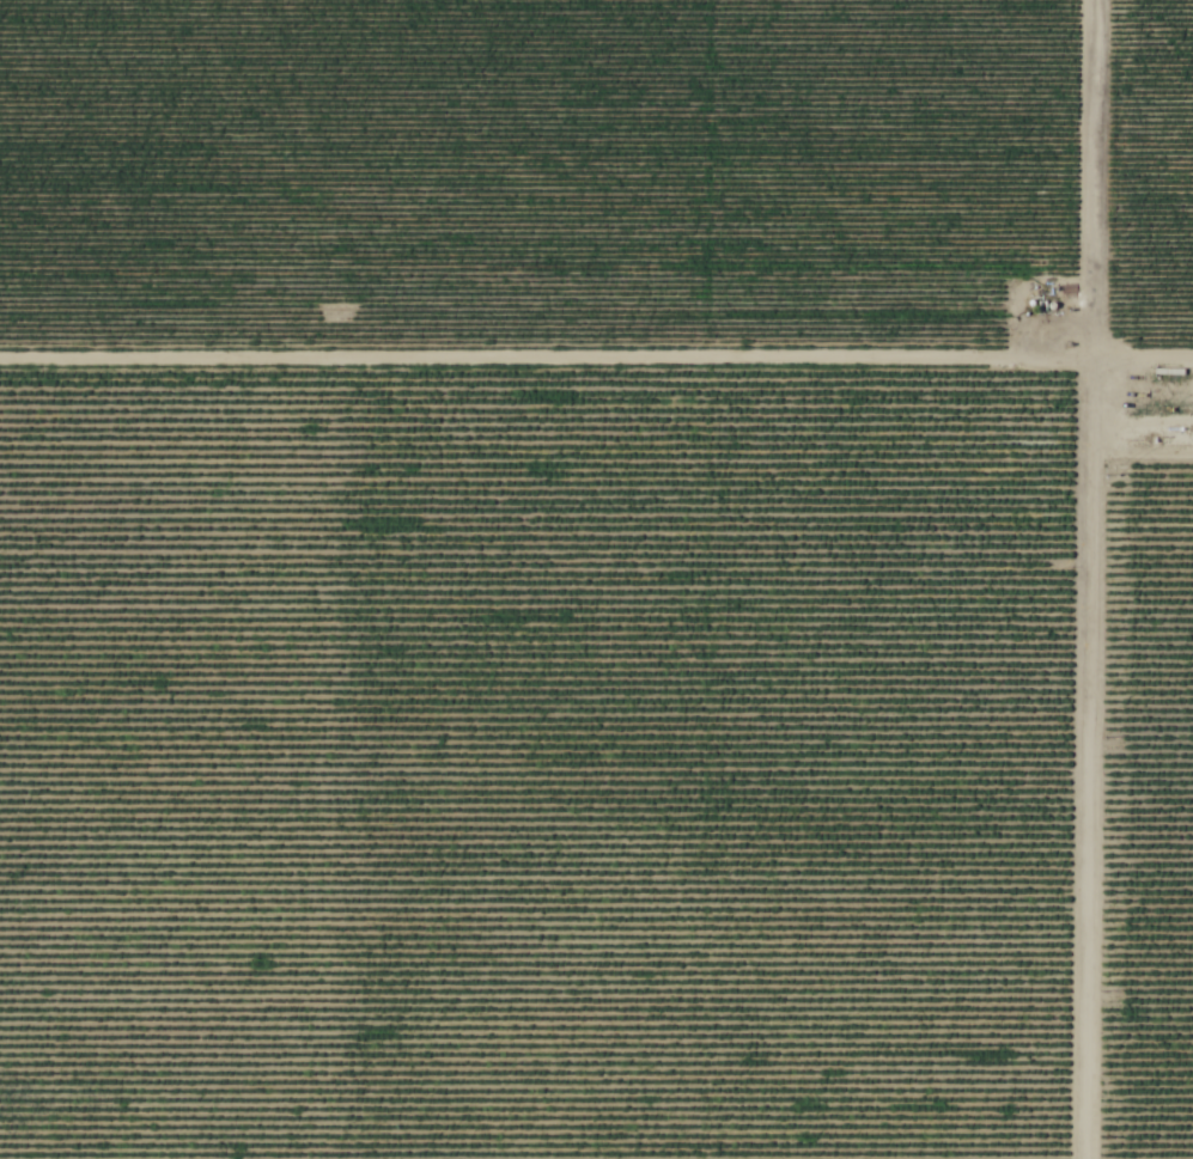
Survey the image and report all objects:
crop: (528, 178)
road: (596, 365)
road: (1085, 579)
crop: (531, 768)
crop: (1146, 819)

